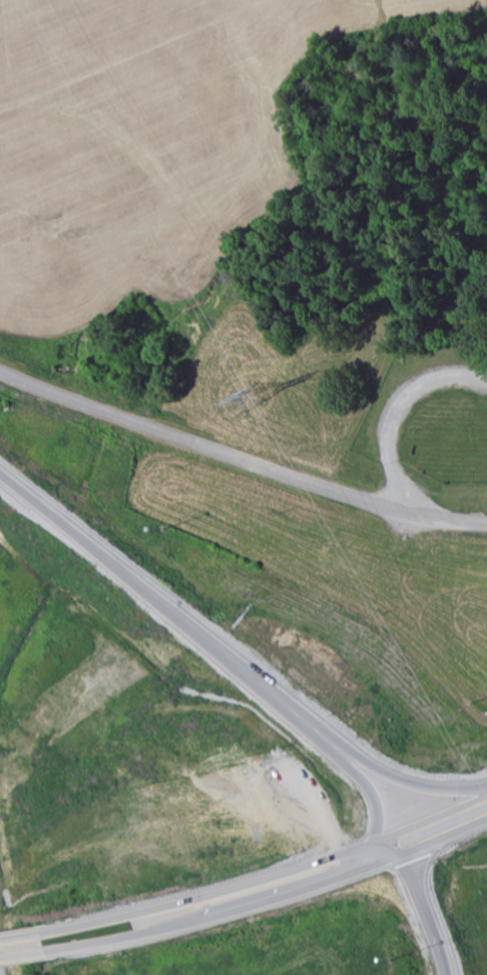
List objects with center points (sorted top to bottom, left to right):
power tower: (248, 400)
road: (394, 420)
road: (240, 459)
road: (229, 653)
road: (366, 787)
road: (267, 881)
road: (269, 900)
road: (420, 906)
road: (19, 939)
road: (21, 956)

